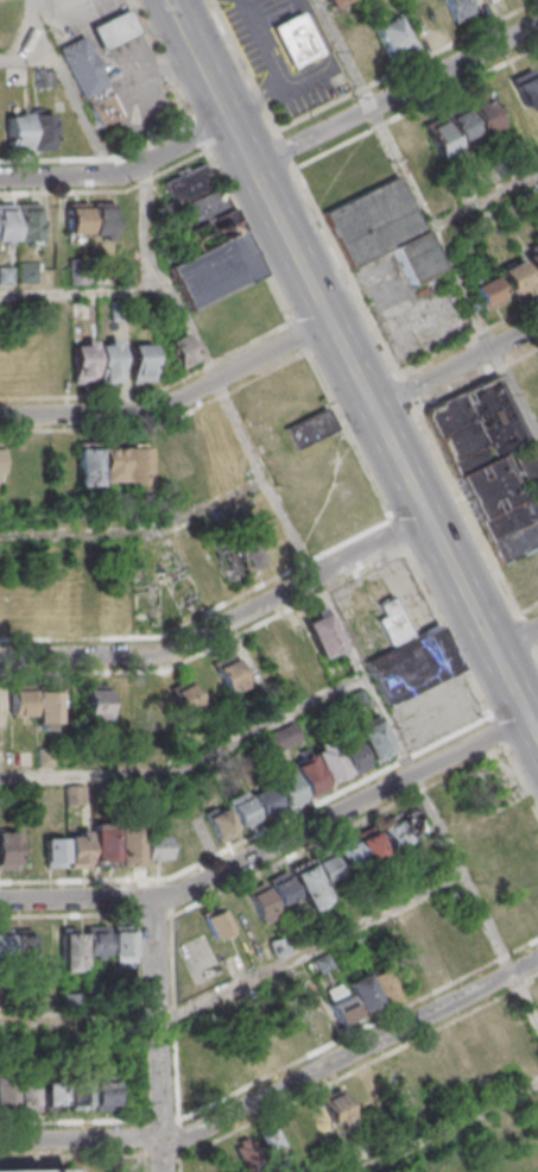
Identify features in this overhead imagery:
building: (333, 2)
road: (103, 8)
building: (458, 10)
building: (422, 17)
road: (183, 26)
building: (114, 27)
road: (114, 27)
building: (390, 33)
building: (297, 39)
road: (235, 49)
building: (363, 49)
parking lot: (273, 52)
road: (26, 58)
road: (160, 62)
road: (407, 68)
road: (281, 71)
road: (147, 76)
building: (90, 80)
gas station: (90, 80)
road: (67, 87)
road: (394, 94)
road: (416, 106)
parking lot: (143, 107)
building: (482, 112)
road: (270, 119)
building: (30, 130)
road: (197, 136)
building: (413, 149)
road: (286, 151)
road: (99, 158)
road: (121, 172)
building: (188, 184)
road: (107, 190)
road: (485, 201)
building: (191, 212)
building: (90, 219)
road: (426, 219)
building: (7, 221)
building: (30, 222)
building: (211, 229)
building: (384, 231)
road: (248, 235)
building: (532, 260)
building: (214, 270)
road: (346, 270)
building: (514, 277)
building: (487, 291)
road: (83, 292)
road: (299, 335)
building: (181, 349)
building: (82, 360)
building: (108, 360)
building: (140, 360)
road: (240, 365)
road: (455, 365)
road: (153, 392)
road: (367, 395)
road: (75, 411)
building: (309, 427)
building: (175, 455)
building: (490, 462)
building: (113, 464)
building: (0, 465)
road: (368, 475)
road: (138, 531)
road: (397, 534)
building: (229, 562)
building: (172, 579)
road: (292, 586)
road: (325, 599)
building: (151, 609)
building: (391, 620)
building: (322, 634)
road: (515, 637)
road: (77, 654)
building: (276, 654)
building: (411, 664)
road: (467, 673)
building: (229, 674)
building: (186, 698)
building: (148, 699)
building: (355, 699)
building: (95, 700)
building: (36, 705)
building: (281, 738)
building: (373, 738)
building: (337, 758)
road: (191, 767)
building: (308, 774)
building: (471, 785)
building: (286, 788)
building: (76, 794)
building: (265, 801)
building: (241, 811)
road: (372, 813)
building: (413, 821)
building: (221, 824)
building: (392, 834)
road: (272, 843)
building: (115, 845)
building: (369, 845)
building: (158, 846)
building: (7, 849)
building: (67, 850)
building: (348, 855)
building: (315, 878)
building: (270, 895)
road: (87, 913)
building: (215, 921)
building: (15, 941)
building: (81, 945)
building: (122, 945)
building: (428, 959)
road: (137, 963)
road: (239, 983)
building: (353, 1000)
road: (158, 1033)
road: (357, 1066)
road: (267, 1072)
road: (278, 1086)
building: (19, 1092)
building: (78, 1092)
building: (335, 1109)
road: (124, 1119)
road: (160, 1119)
road: (449, 1126)
road: (178, 1135)
road: (145, 1145)
building: (262, 1146)
road: (88, 1154)
road: (178, 1162)
building: (56, 1171)

